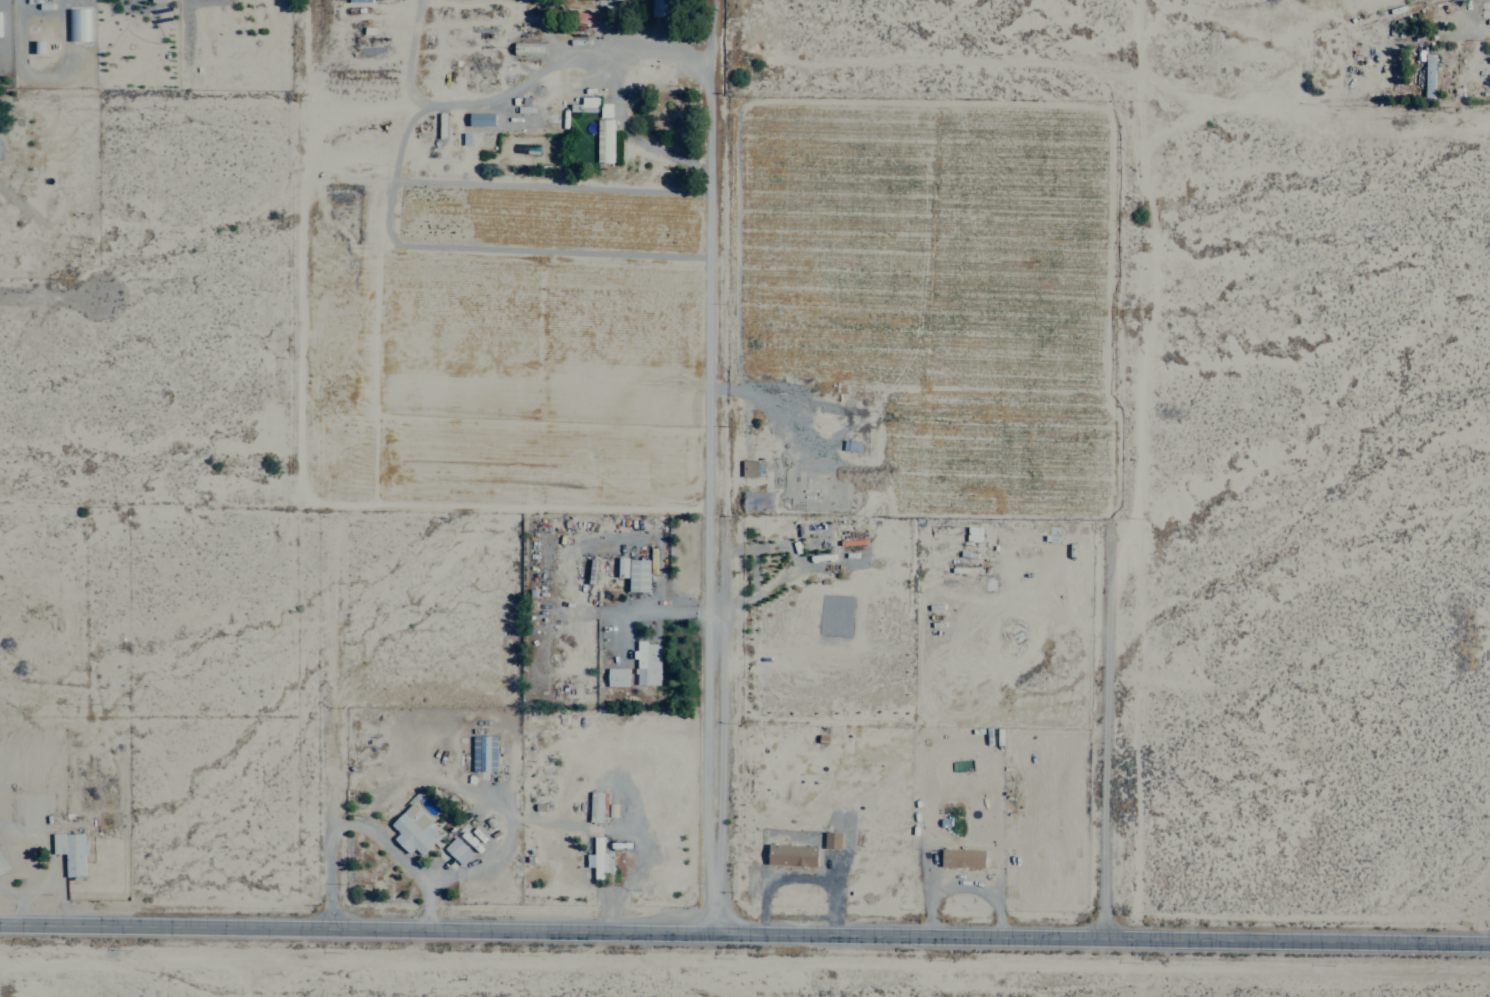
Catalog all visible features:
building: (158, 0)
building: (656, 8)
building: (78, 25)
building: (588, 102)
road: (1336, 112)
building: (479, 119)
building: (603, 141)
road: (49, 291)
building: (747, 467)
road: (712, 509)
building: (620, 566)
building: (636, 575)
road: (1108, 642)
building: (645, 663)
building: (615, 677)
building: (482, 753)
building: (599, 806)
building: (411, 830)
building: (830, 840)
building: (456, 850)
building: (69, 851)
building: (790, 854)
building: (597, 858)
building: (960, 858)
road: (334, 870)
road: (744, 931)

